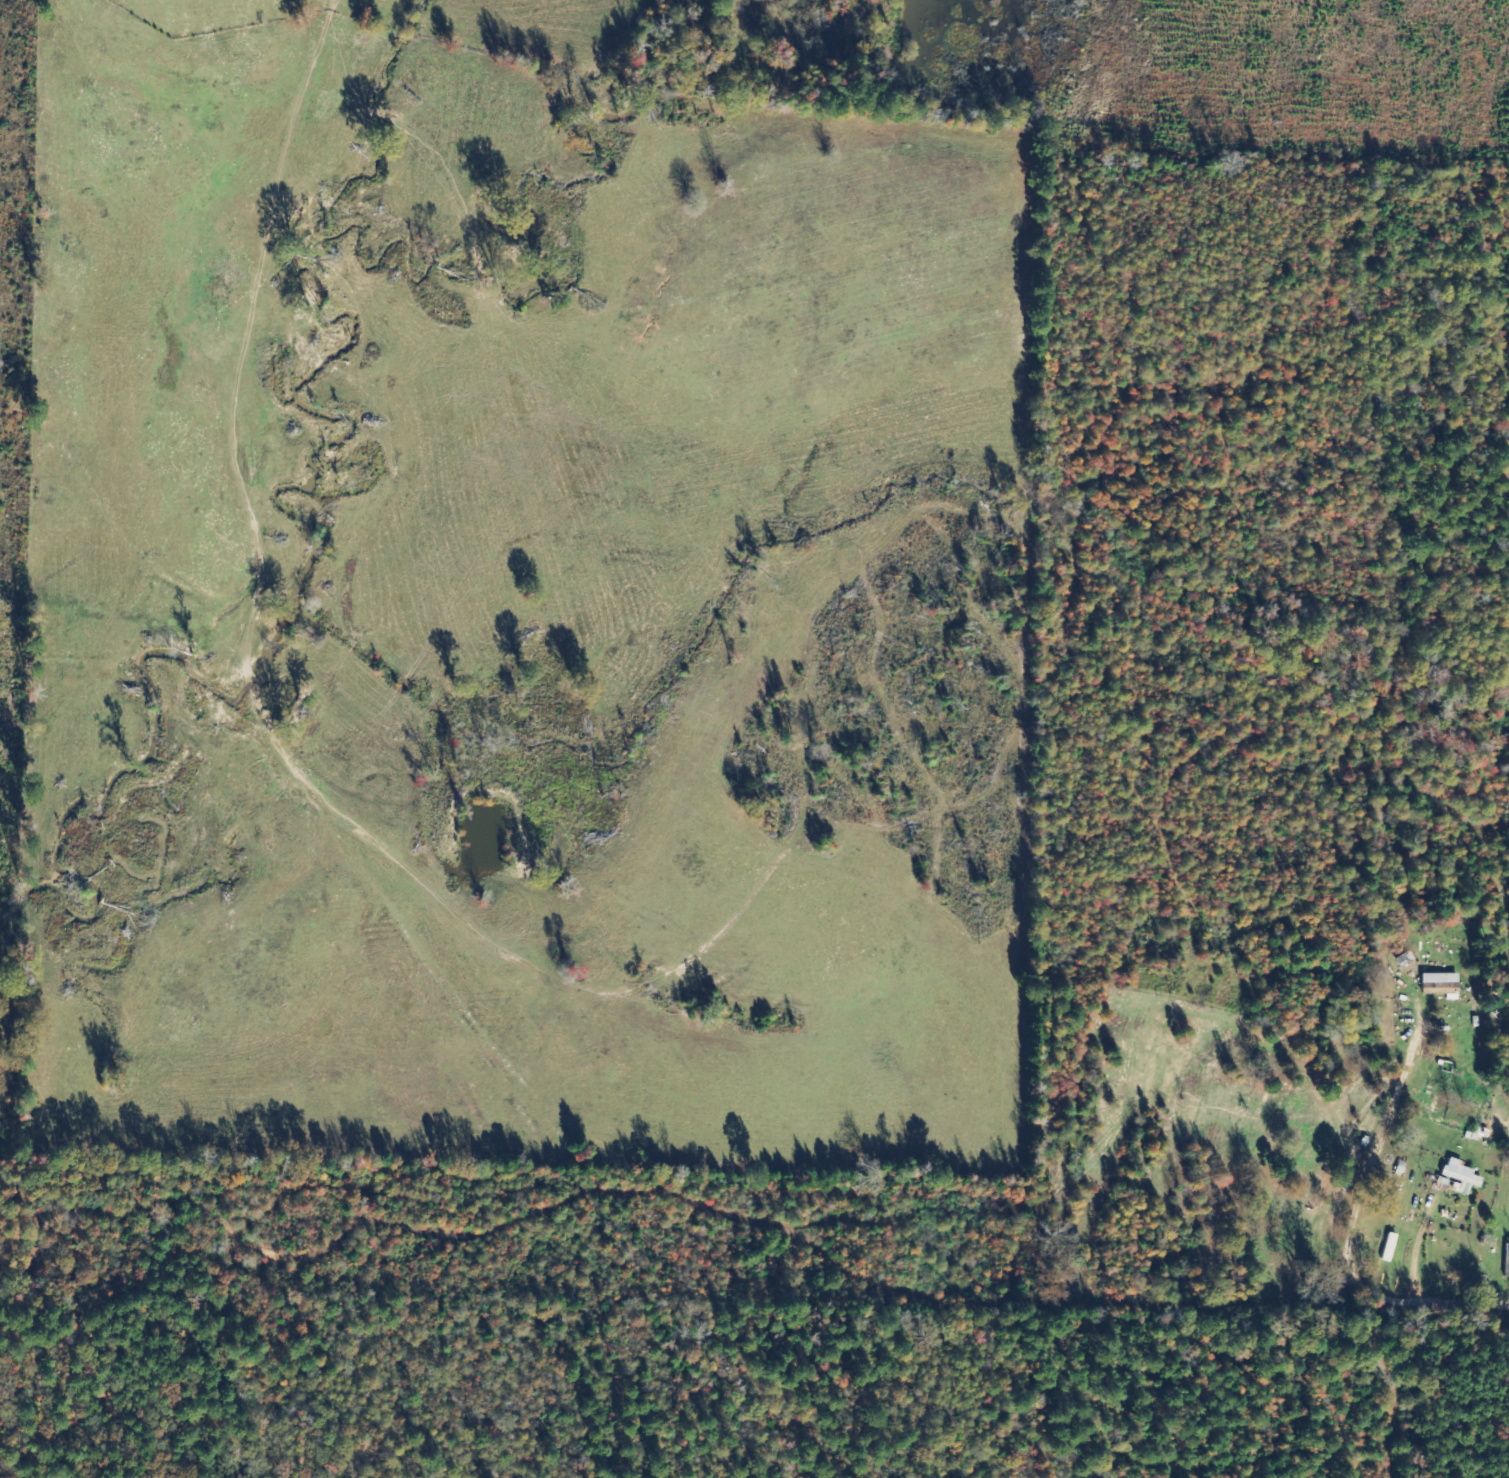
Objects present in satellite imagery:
building: (1459, 1174)
building: (1506, 1259)

